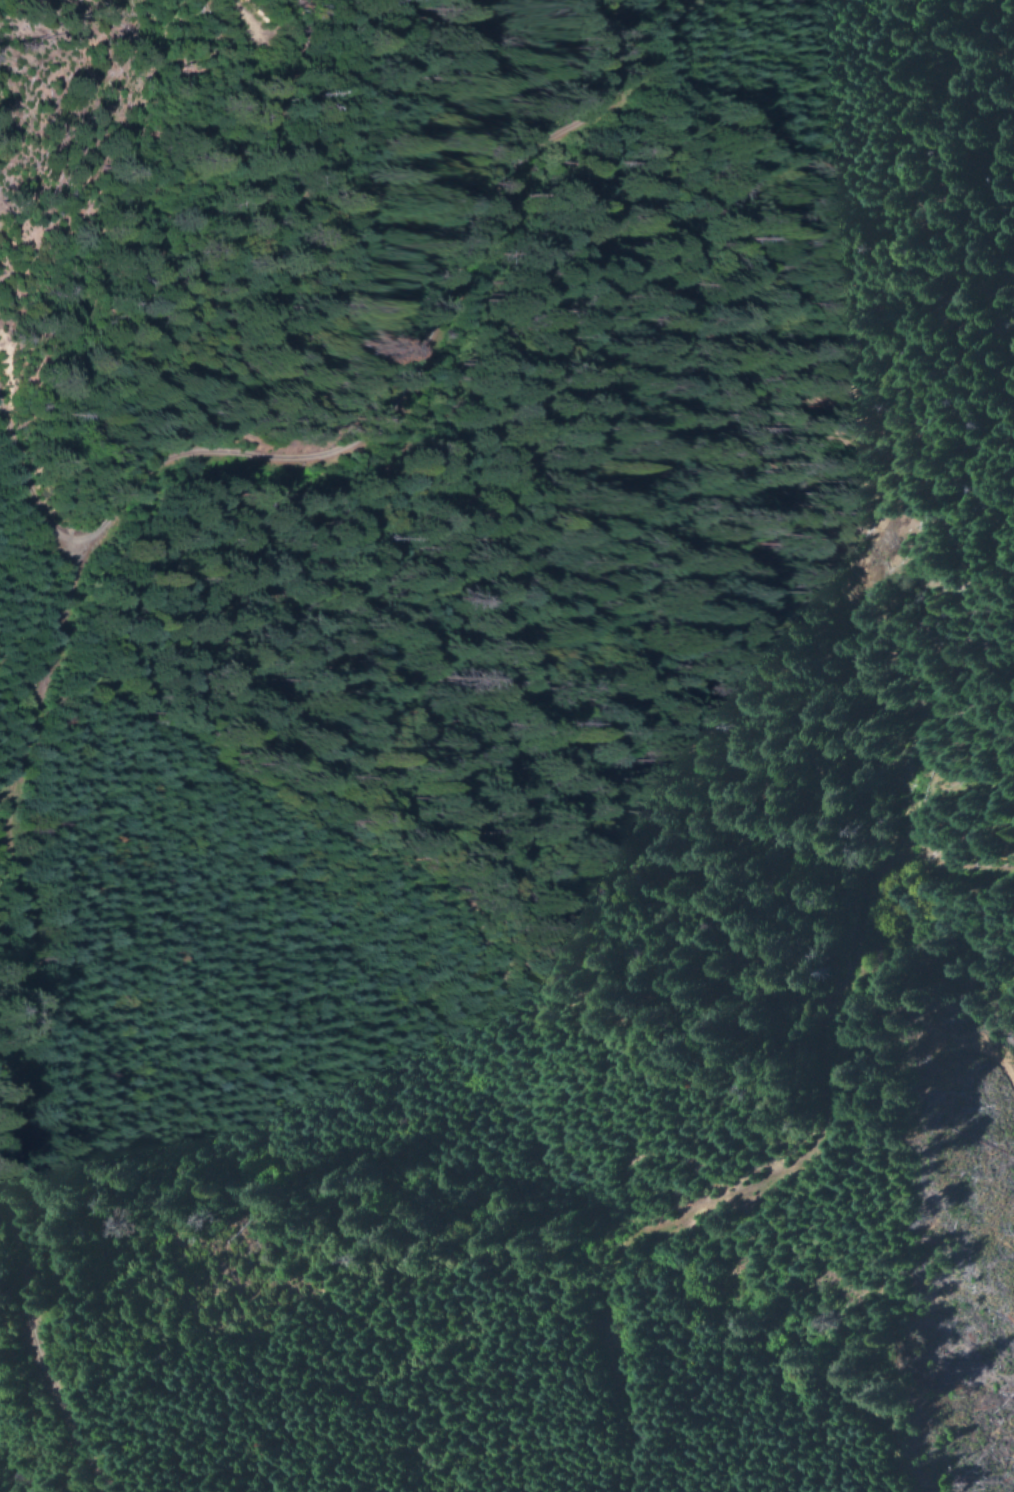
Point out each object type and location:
road: (250, 18)
road: (396, 416)
road: (16, 1017)

